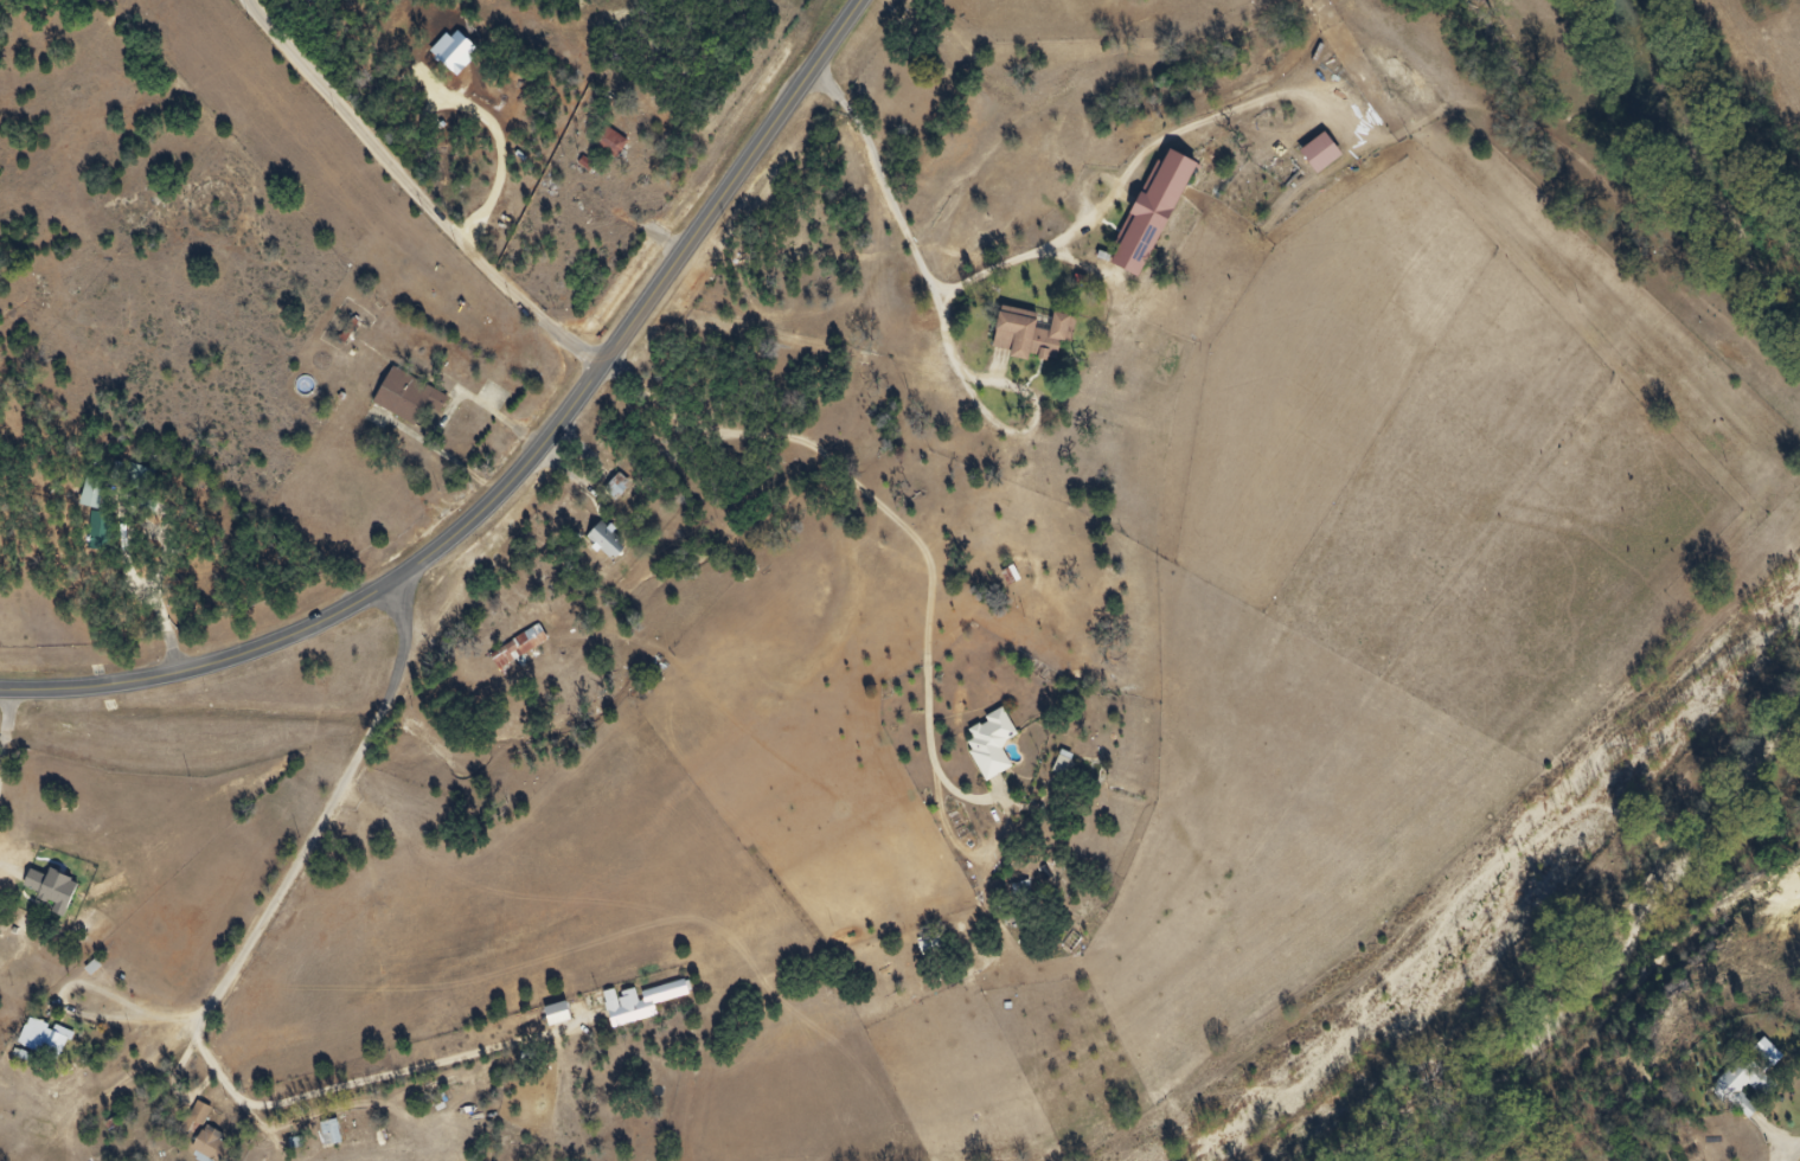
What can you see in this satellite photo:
river: (1703, 139)
building: (602, 149)
building: (1322, 149)
road: (415, 192)
building: (1155, 206)
building: (582, 216)
building: (1037, 328)
building: (398, 403)
road: (514, 466)
building: (600, 547)
building: (513, 650)
road: (8, 729)
building: (981, 750)
road: (0, 766)
road: (0, 770)
river: (1559, 886)
road: (1629, 994)
road: (219, 1006)
building: (630, 1007)
building: (547, 1020)
building: (34, 1044)
building: (1727, 1086)
building: (321, 1138)
building: (203, 1148)
road: (1796, 1157)

